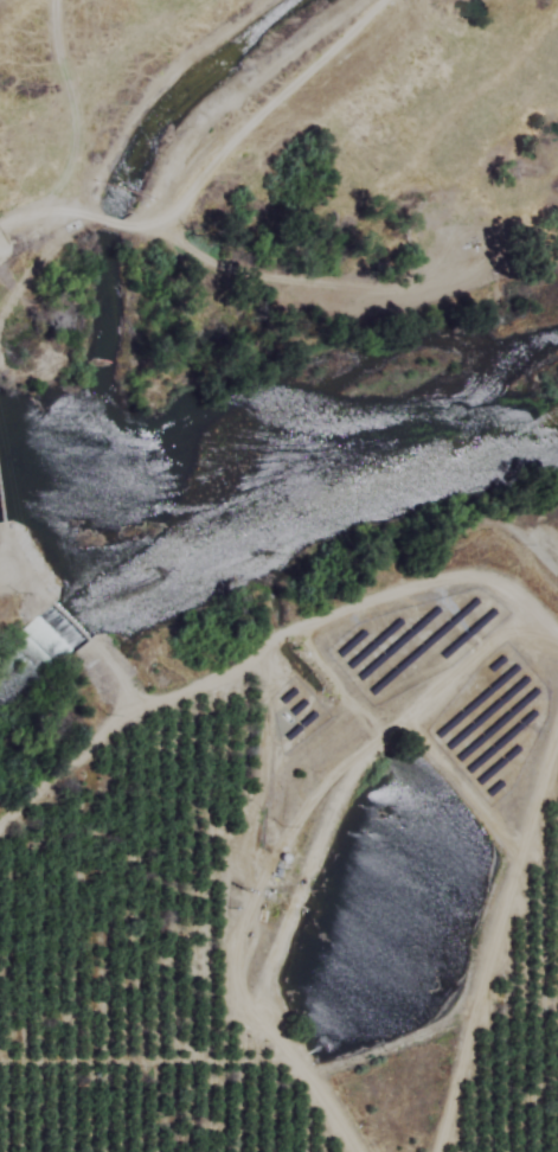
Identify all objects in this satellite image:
road: (156, 90)
river: (358, 461)
dam: (60, 614)
building: (43, 648)
crop: (299, 914)

